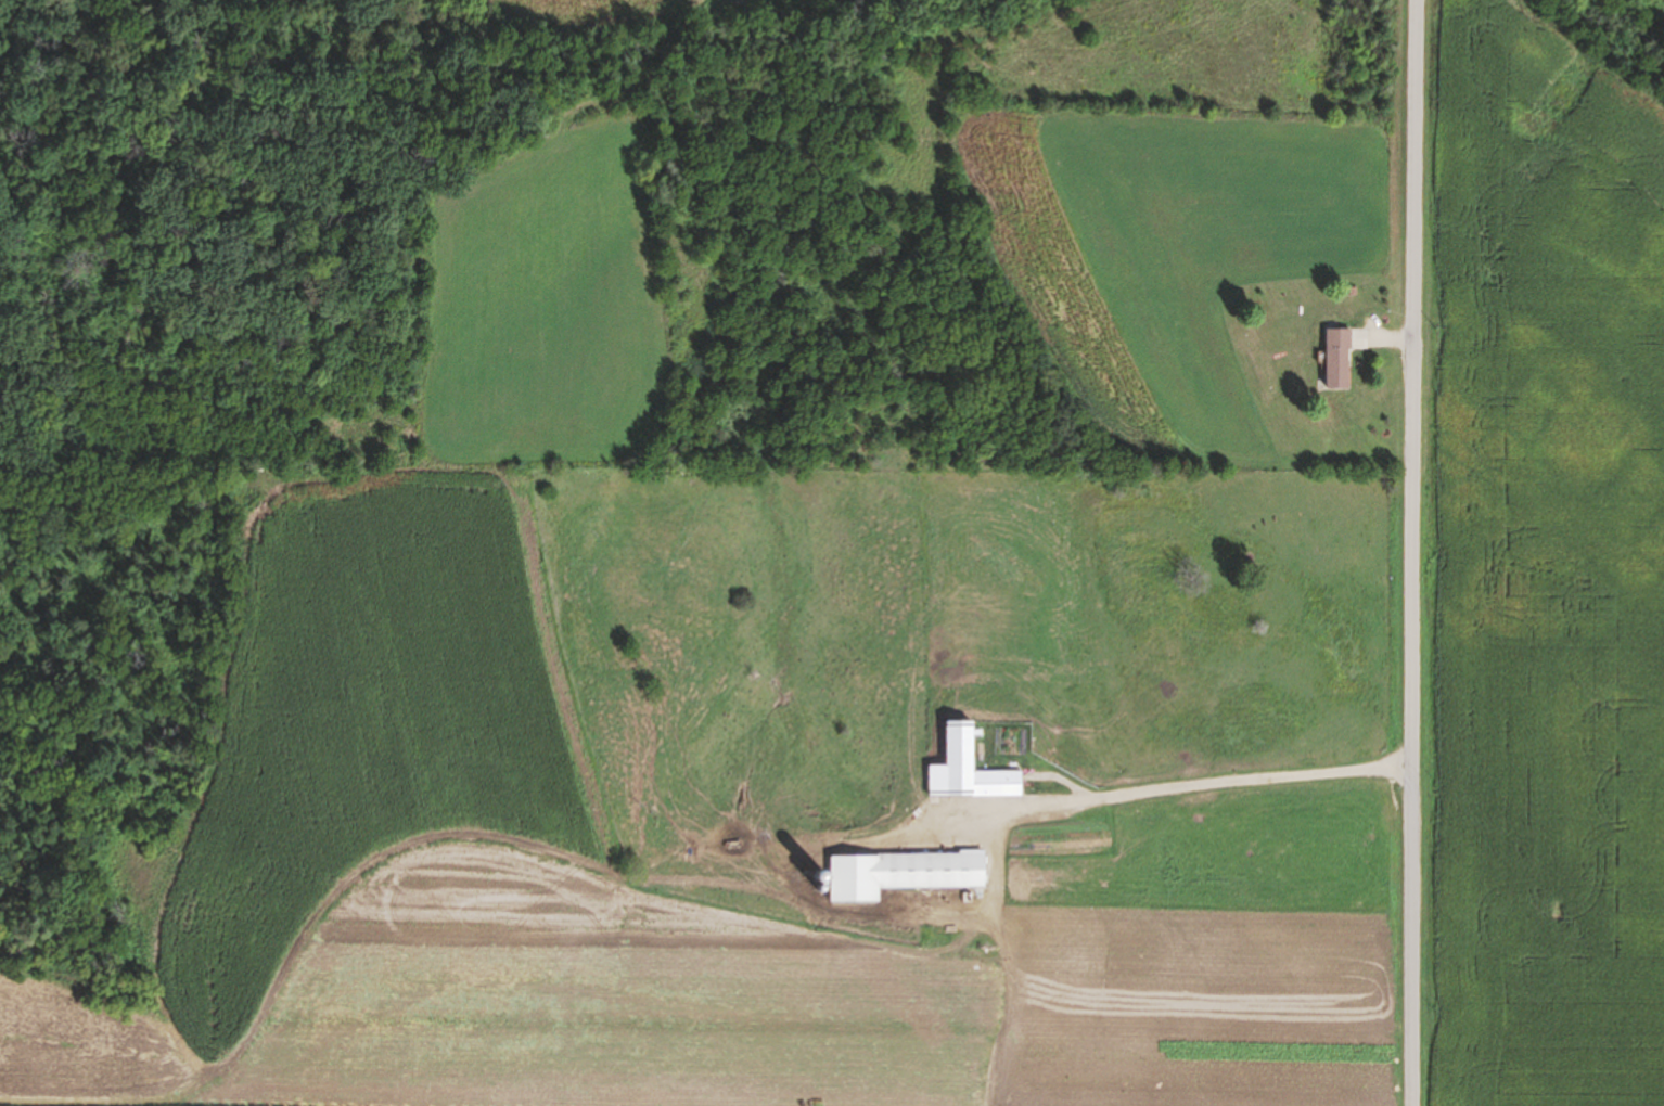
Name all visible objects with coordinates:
building: (1342, 356)
road: (1417, 552)

